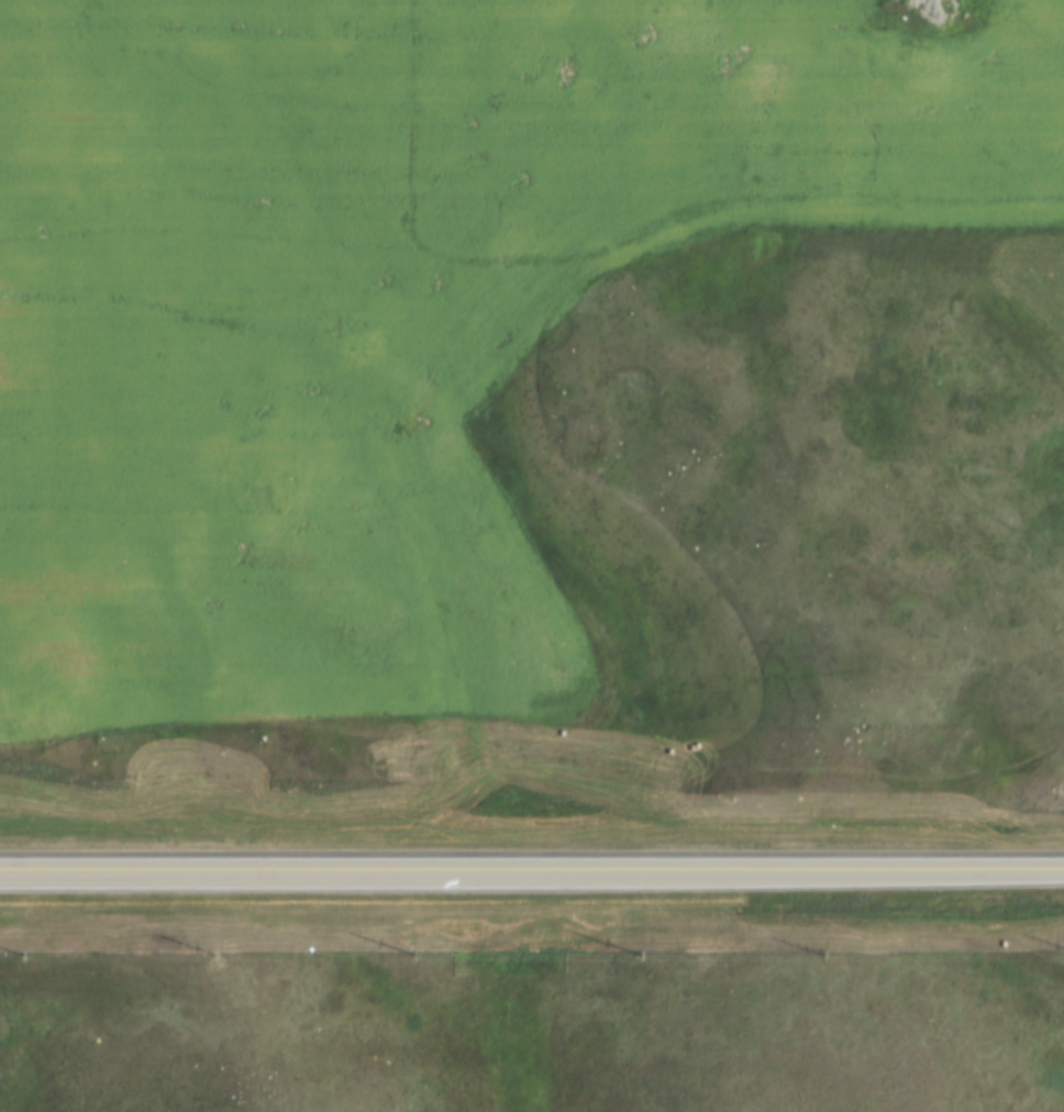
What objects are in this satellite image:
road: (532, 866)

